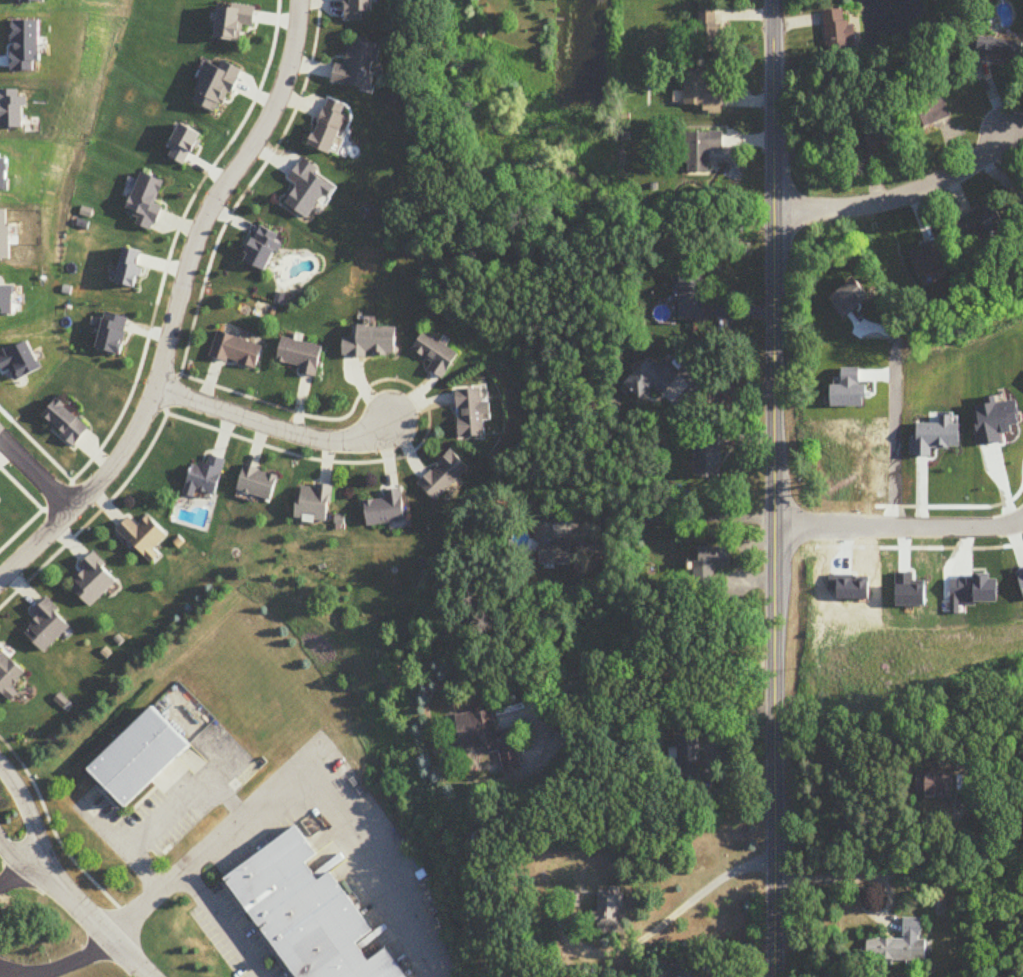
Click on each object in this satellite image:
building: (360, 9)
building: (709, 32)
building: (841, 32)
building: (1000, 50)
building: (360, 67)
building: (701, 93)
building: (925, 118)
building: (330, 127)
building: (876, 143)
building: (703, 151)
road: (900, 198)
building: (983, 223)
building: (695, 296)
road: (174, 303)
building: (372, 343)
building: (235, 351)
building: (438, 355)
building: (300, 356)
building: (474, 413)
road: (889, 413)
building: (61, 423)
road: (270, 427)
building: (904, 435)
building: (709, 455)
road: (36, 469)
building: (201, 477)
building: (445, 477)
building: (255, 484)
road: (775, 488)
building: (312, 503)
building: (386, 510)
road: (899, 518)
road: (679, 519)
building: (139, 535)
building: (551, 547)
building: (712, 565)
building: (90, 581)
building: (45, 625)
building: (8, 672)
road: (645, 672)
building: (489, 739)
building: (688, 749)
building: (138, 757)
road: (296, 780)
building: (939, 782)
road: (28, 817)
road: (155, 817)
road: (18, 860)
road: (881, 876)
road: (683, 907)
building: (609, 911)
building: (307, 914)
road: (95, 923)
road: (221, 924)
building: (901, 944)
road: (55, 961)
building: (681, 969)

